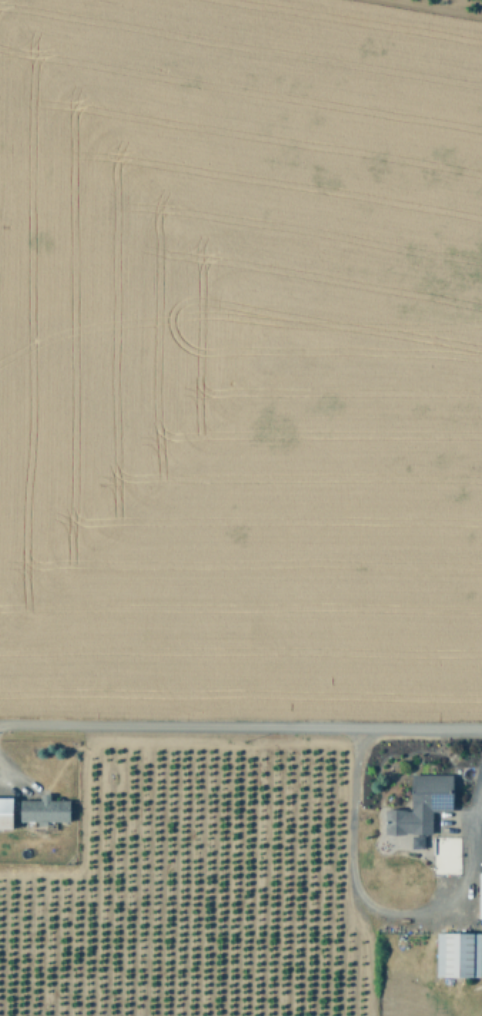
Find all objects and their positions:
crop: (241, 508)
road: (240, 723)
building: (420, 804)
building: (42, 809)
building: (3, 811)
building: (479, 895)
road: (362, 905)
building: (457, 954)

